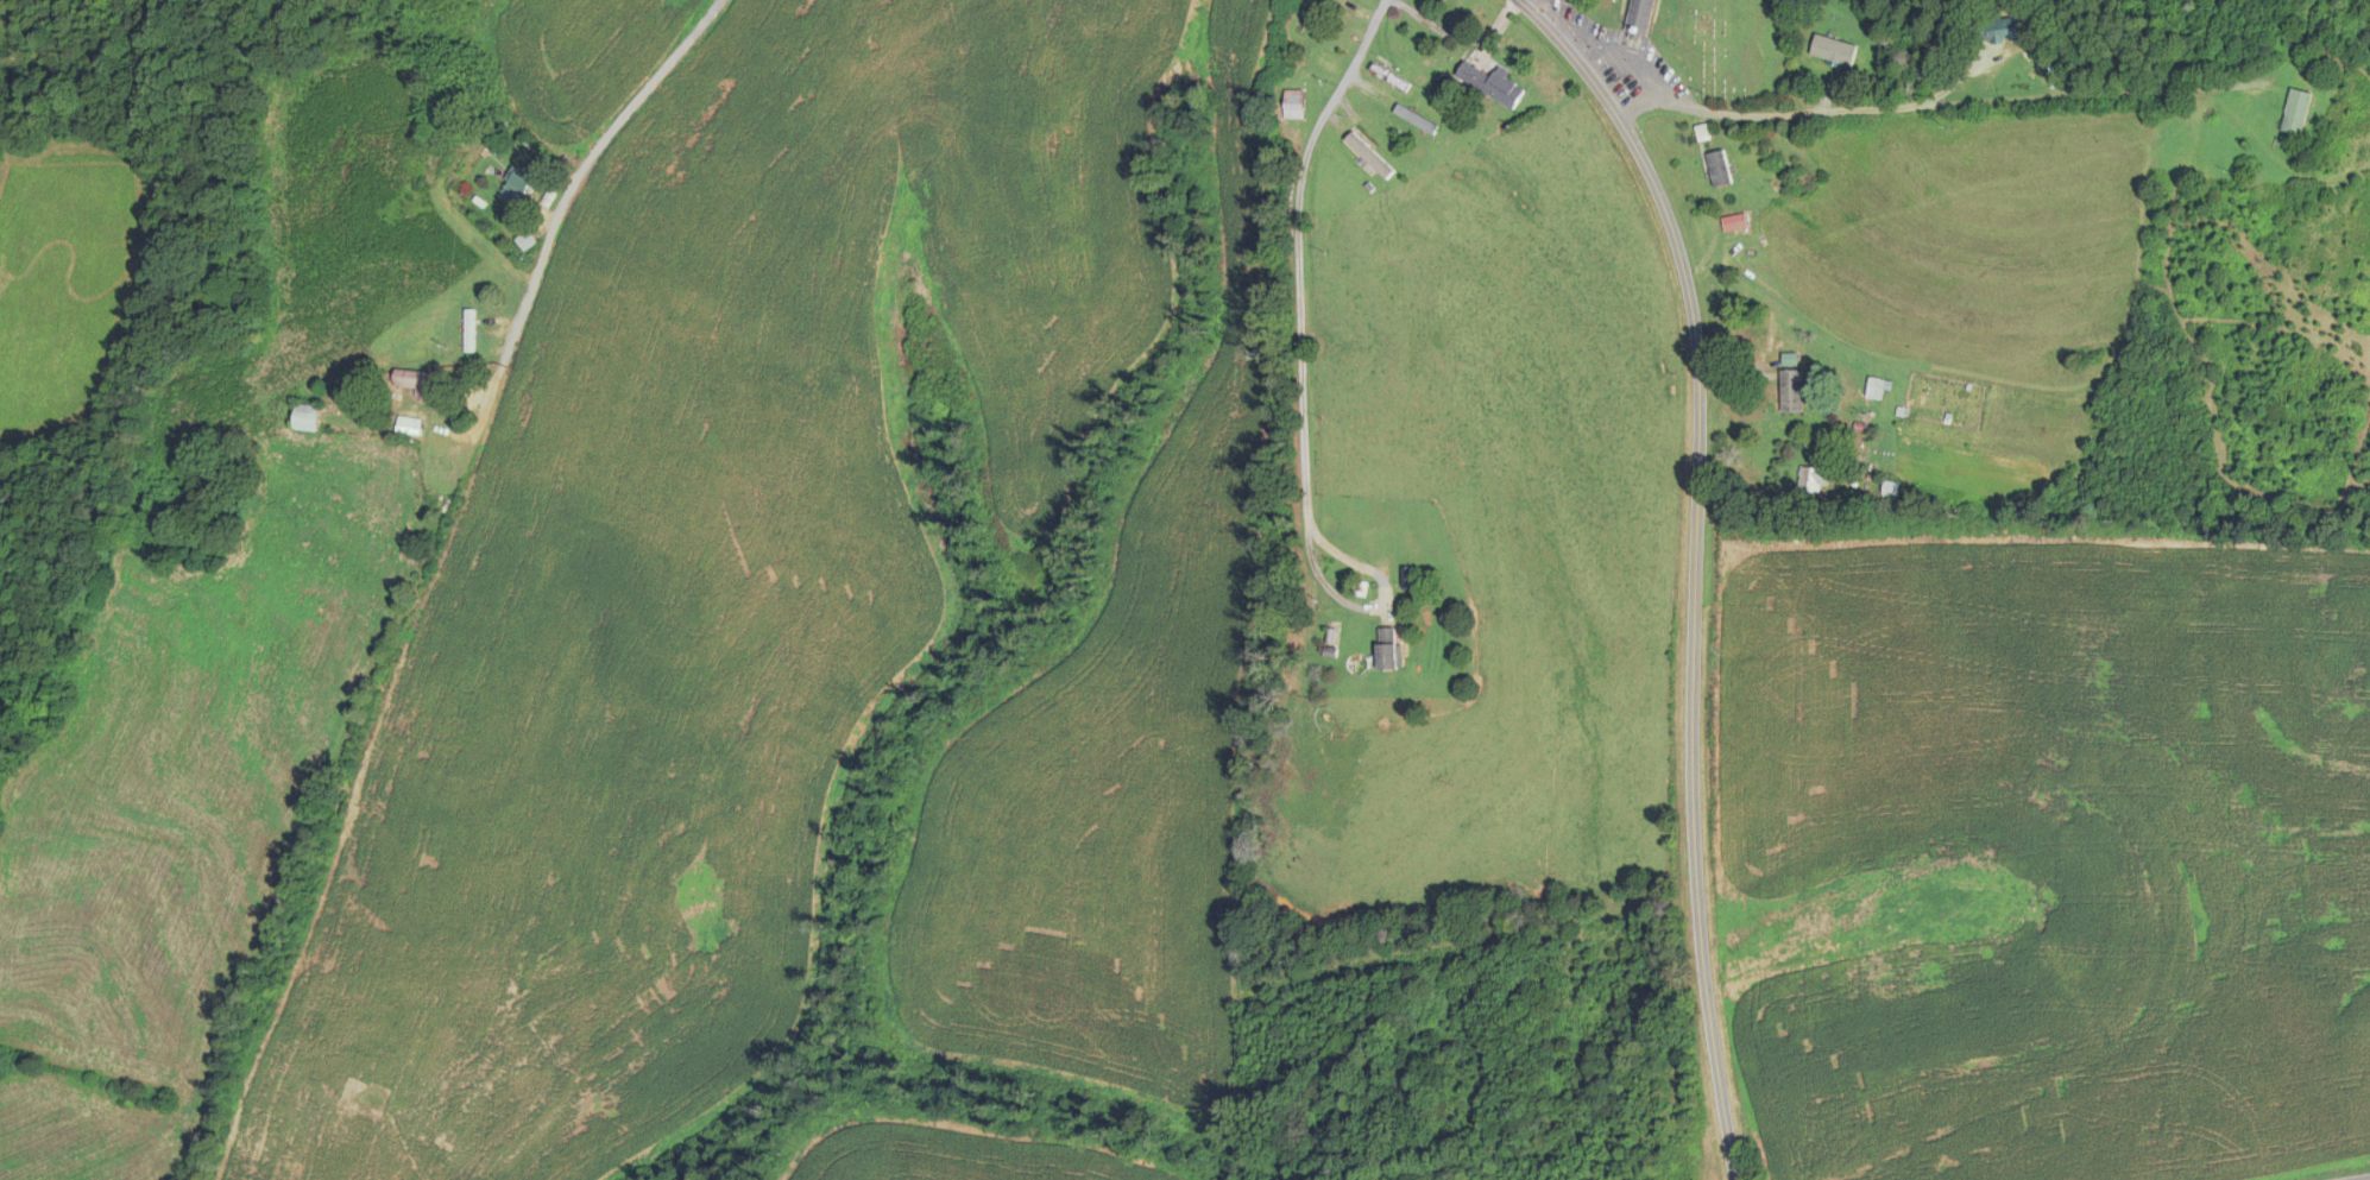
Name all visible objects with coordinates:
building: (1640, 19)
building: (2000, 30)
road: (1460, 39)
building: (1836, 45)
park: (1732, 49)
building: (1493, 84)
building: (1294, 103)
building: (2297, 111)
road: (1999, 114)
building: (1416, 118)
road: (1656, 131)
building: (471, 158)
building: (1720, 168)
building: (518, 187)
building: (1735, 222)
road: (566, 229)
road: (1297, 303)
building: (469, 329)
building: (1790, 359)
building: (418, 383)
building: (1877, 387)
building: (1792, 390)
building: (308, 417)
building: (1814, 479)
building: (1890, 488)
road: (1695, 566)
building: (1389, 649)
road: (2364, 1179)

